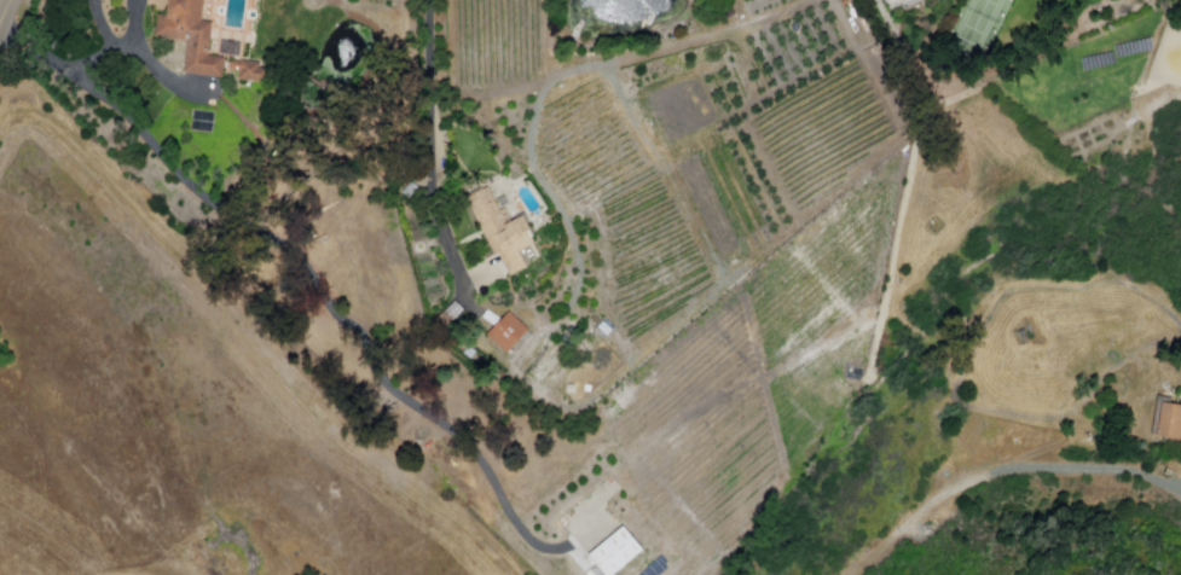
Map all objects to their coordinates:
road: (7, 14)
park: (979, 29)
building: (192, 39)
road: (121, 47)
road: (150, 69)
building: (251, 71)
road: (433, 144)
building: (505, 233)
road: (308, 274)
building: (508, 333)
building: (1170, 422)
building: (618, 552)

